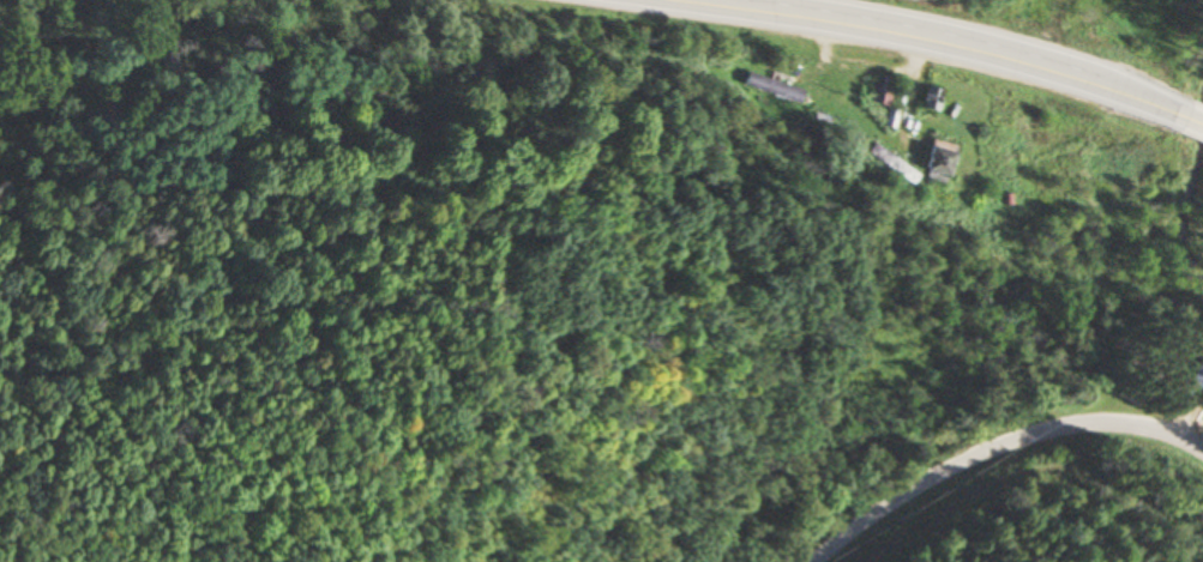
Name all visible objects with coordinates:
road: (942, 42)
building: (769, 89)
building: (879, 92)
building: (925, 101)
road: (1195, 122)
building: (931, 162)
road: (994, 449)

